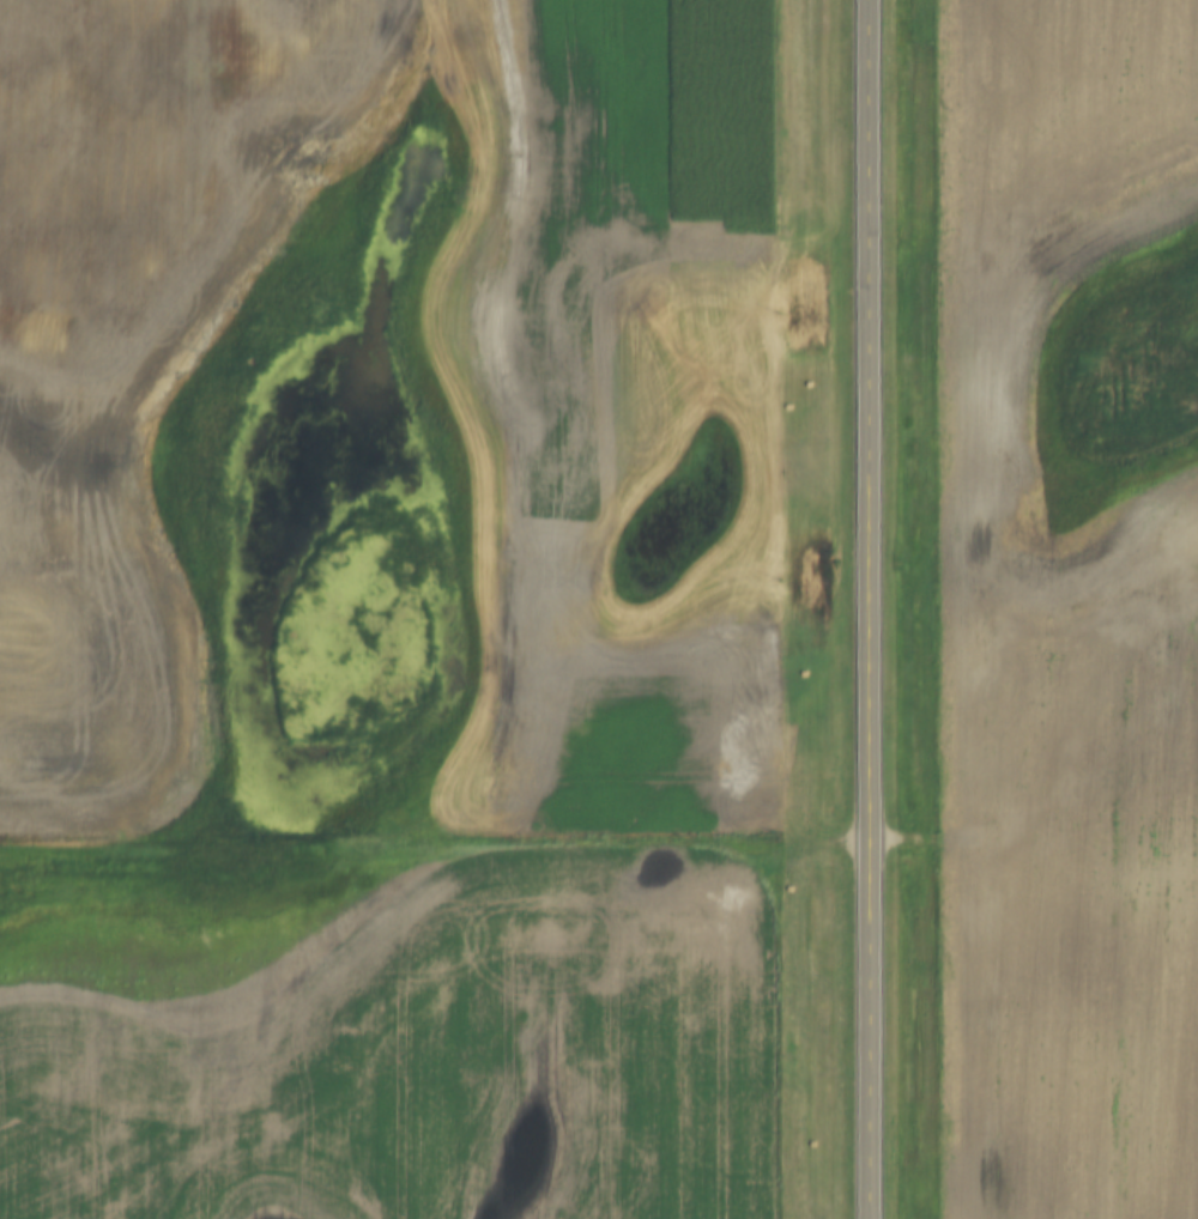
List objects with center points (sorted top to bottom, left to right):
road: (870, 609)

